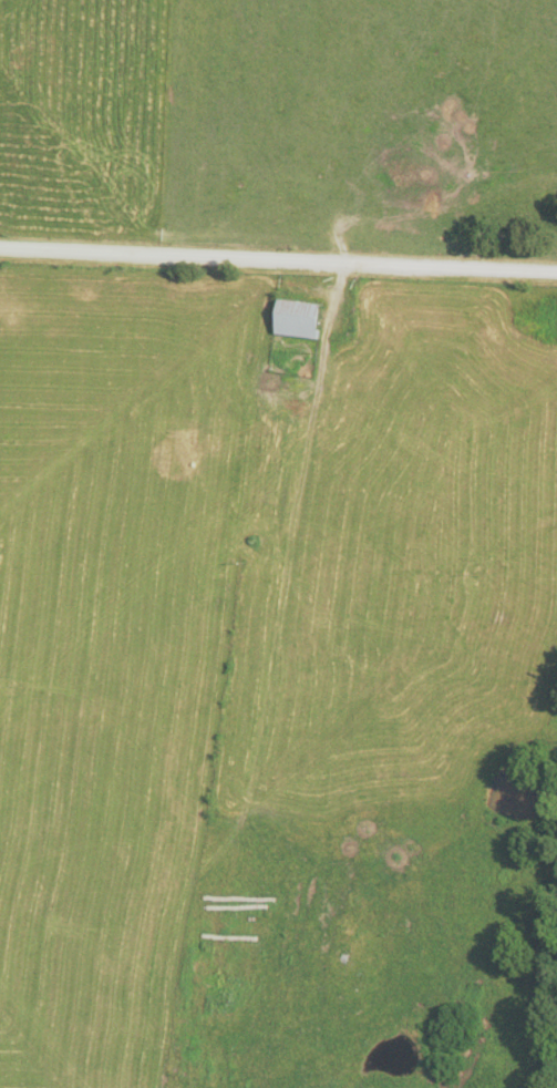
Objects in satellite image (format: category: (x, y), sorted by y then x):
road: (278, 257)
building: (307, 317)

